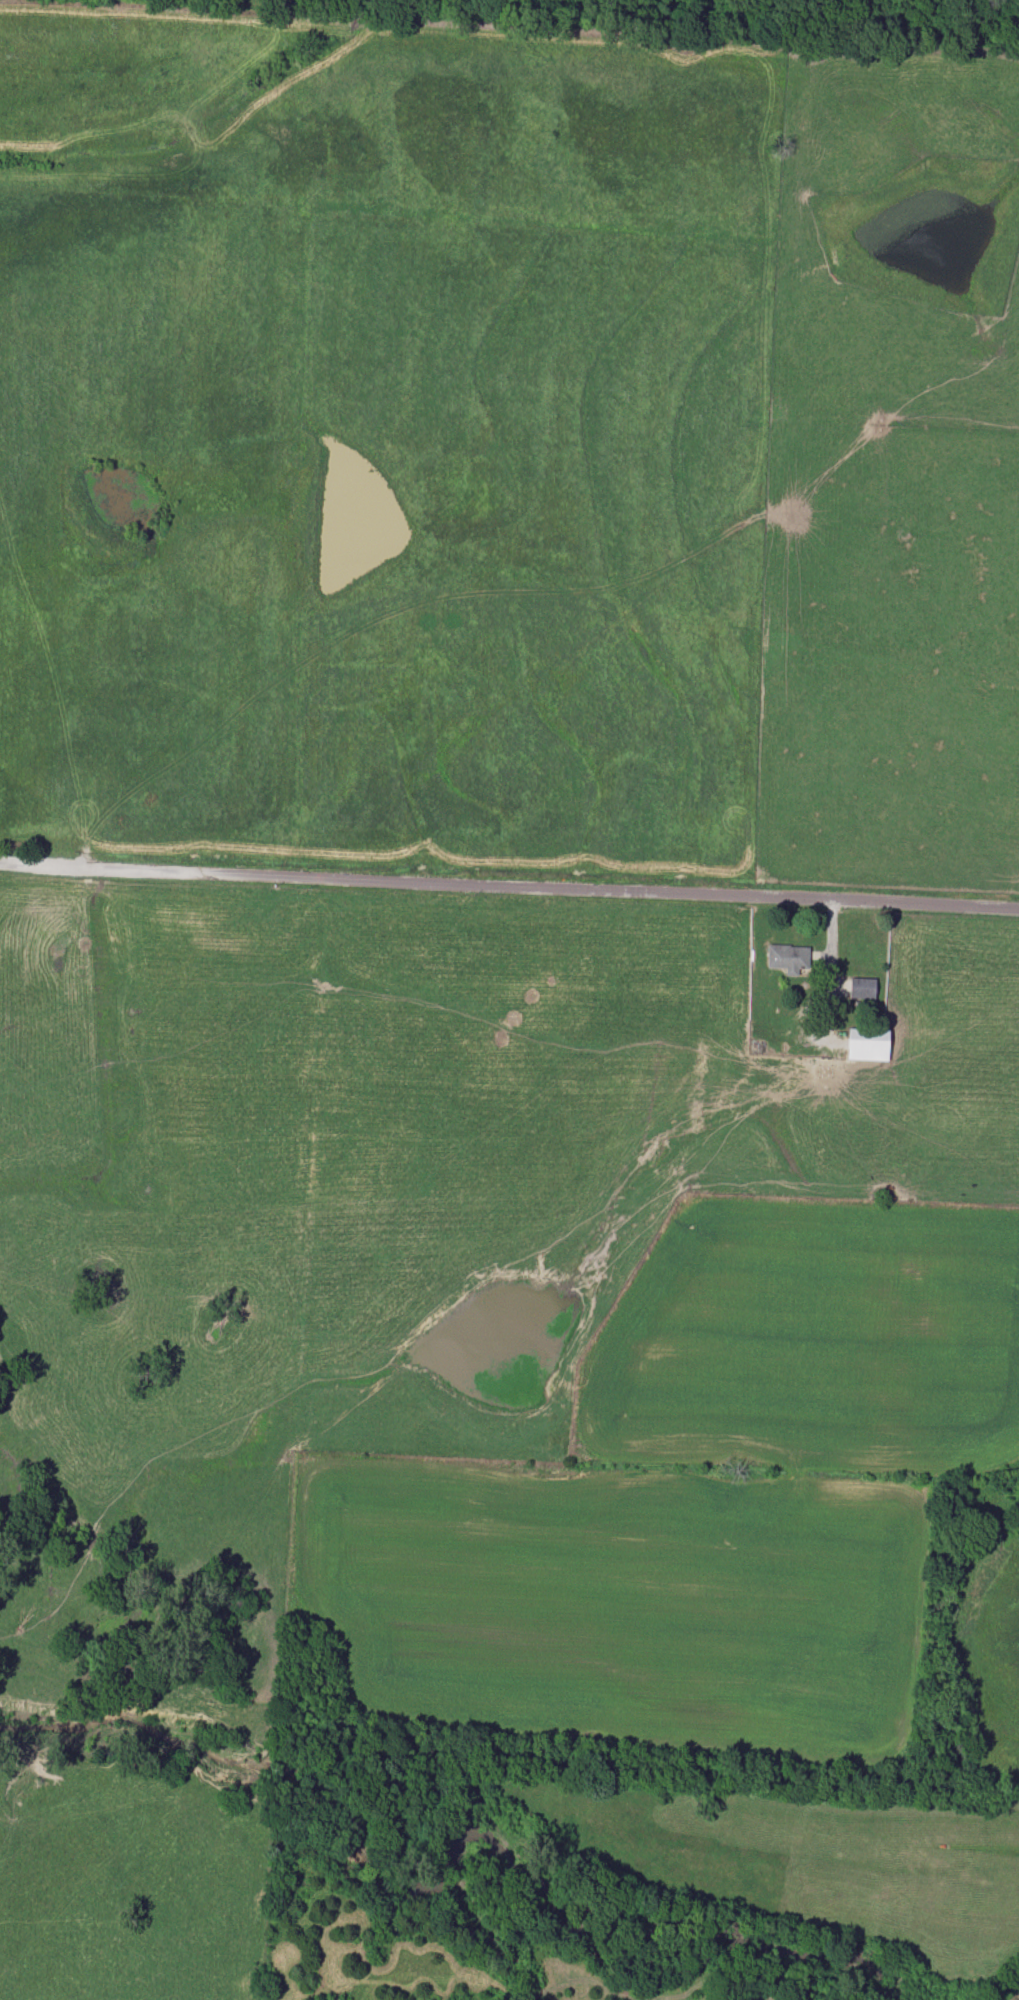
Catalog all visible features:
road: (509, 876)
building: (787, 958)
building: (861, 987)
building: (867, 1044)
crop: (693, 1502)

